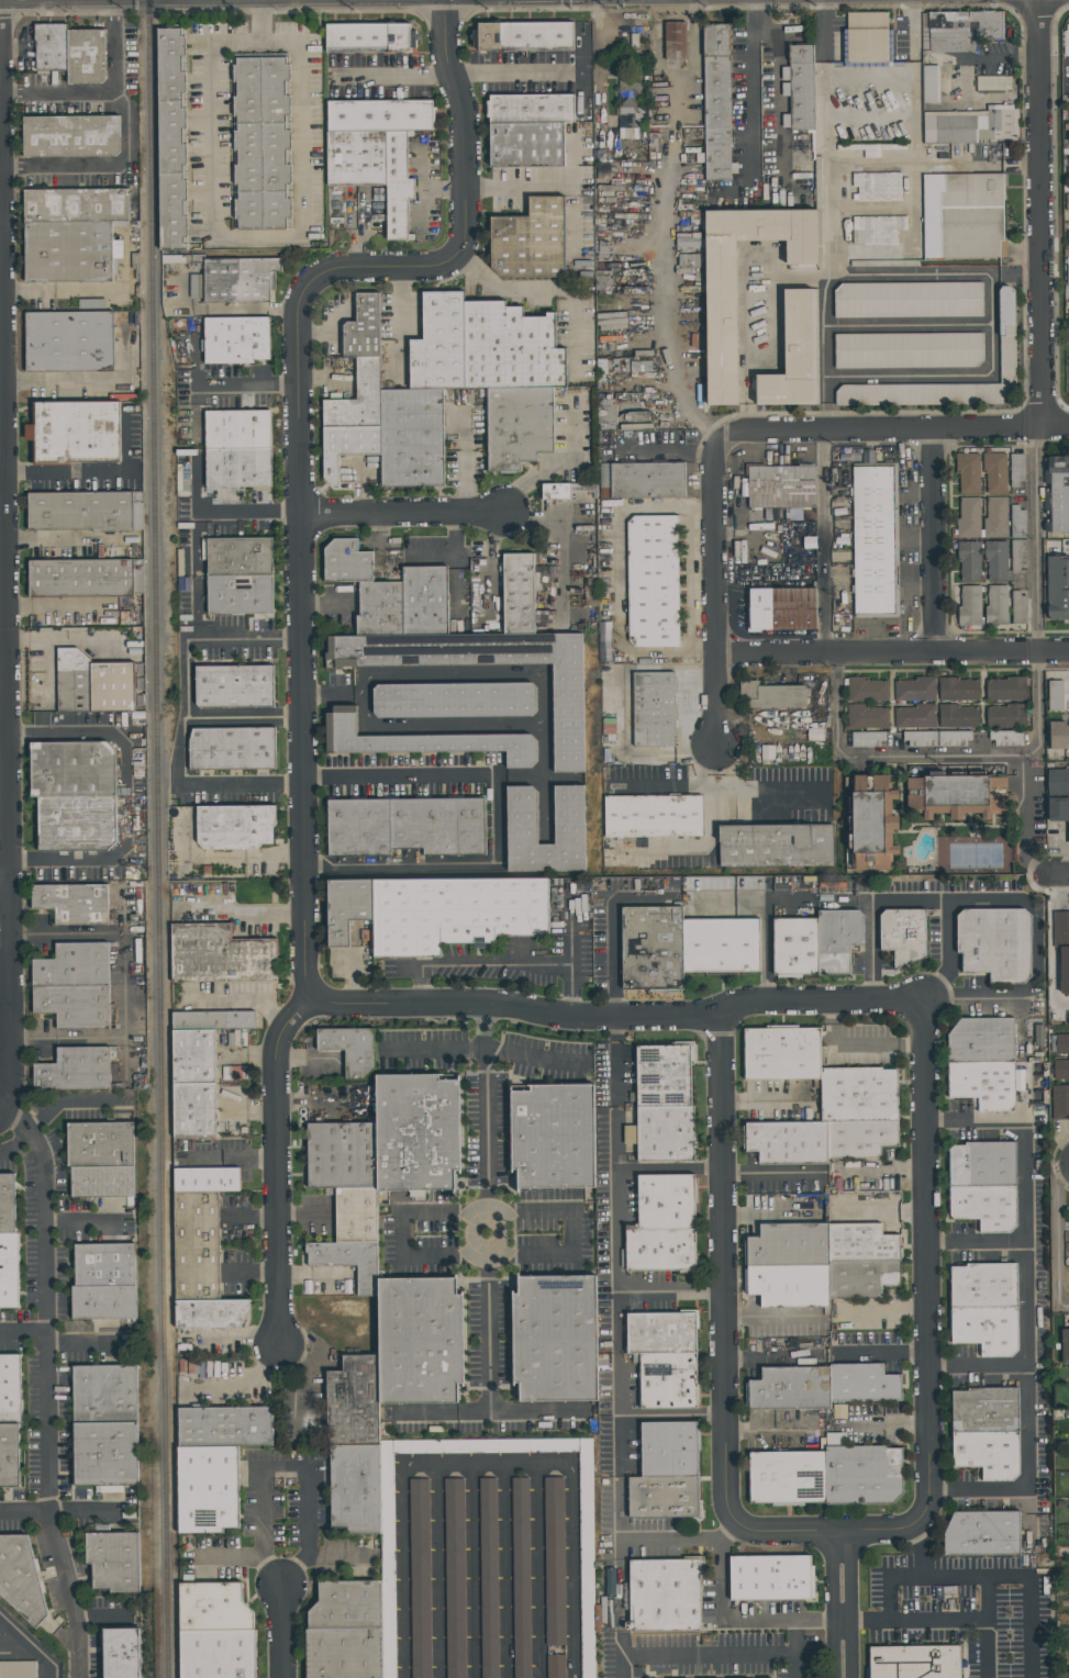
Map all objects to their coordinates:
road: (695, 5)
road: (256, 20)
building: (959, 30)
road: (823, 31)
road: (916, 31)
building: (527, 38)
building: (370, 40)
building: (867, 40)
building: (676, 41)
building: (1066, 42)
road: (113, 45)
building: (51, 46)
building: (86, 56)
road: (1068, 71)
road: (515, 72)
road: (394, 74)
road: (869, 74)
road: (657, 83)
road: (776, 83)
building: (929, 83)
building: (993, 83)
building: (799, 88)
road: (60, 91)
road: (0, 92)
road: (746, 101)
building: (628, 102)
building: (716, 103)
road: (823, 104)
building: (1068, 107)
building: (534, 110)
building: (380, 114)
building: (972, 125)
building: (70, 135)
building: (172, 137)
building: (1068, 137)
road: (465, 142)
building: (261, 143)
building: (528, 147)
building: (356, 158)
road: (99, 161)
road: (871, 163)
building: (1068, 165)
building: (398, 184)
building: (877, 186)
road: (517, 187)
road: (914, 193)
road: (1, 199)
building: (1067, 202)
building: (78, 208)
road: (828, 211)
road: (1040, 213)
building: (962, 215)
building: (877, 228)
road: (252, 236)
building: (1068, 238)
building: (531, 240)
building: (70, 254)
road: (385, 270)
building: (1068, 270)
road: (1015, 272)
building: (240, 279)
road: (493, 286)
building: (196, 287)
road: (742, 287)
road: (662, 297)
building: (907, 300)
road: (255, 311)
road: (990, 323)
building: (363, 327)
building: (1006, 336)
building: (724, 337)
road: (777, 338)
building: (236, 339)
building: (70, 344)
building: (439, 344)
building: (511, 348)
building: (909, 350)
road: (1, 353)
road: (826, 353)
building: (798, 357)
road: (231, 383)
building: (358, 399)
road: (198, 411)
building: (517, 426)
road: (893, 429)
building: (241, 432)
building: (80, 434)
building: (411, 437)
building: (347, 446)
road: (664, 451)
building: (1016, 469)
road: (94, 470)
building: (241, 470)
building: (968, 472)
building: (994, 472)
building: (642, 480)
building: (783, 489)
building: (566, 490)
building: (1056, 493)
building: (80, 510)
road: (249, 514)
road: (409, 514)
building: (969, 517)
building: (995, 517)
building: (1017, 522)
road: (619, 533)
building: (876, 539)
road: (933, 541)
road: (821, 542)
road: (4, 550)
building: (1017, 555)
building: (241, 558)
building: (969, 560)
building: (996, 561)
building: (349, 564)
road: (2, 578)
building: (79, 578)
building: (653, 581)
road: (691, 581)
building: (1057, 589)
building: (242, 596)
building: (521, 596)
building: (427, 603)
road: (715, 603)
road: (55, 605)
building: (995, 605)
building: (968, 606)
building: (1016, 607)
building: (781, 609)
building: (382, 611)
road: (205, 639)
road: (667, 653)
road: (892, 655)
road: (1038, 655)
building: (92, 683)
building: (236, 689)
building: (865, 690)
building: (913, 690)
building: (956, 690)
building: (1005, 690)
building: (1056, 695)
building: (771, 696)
road: (326, 697)
road: (356, 697)
building: (455, 700)
road: (541, 707)
building: (653, 709)
building: (914, 716)
building: (957, 716)
building: (865, 717)
building: (1005, 717)
building: (1059, 734)
building: (953, 738)
building: (1006, 738)
building: (866, 739)
building: (920, 739)
building: (423, 740)
building: (230, 749)
road: (183, 750)
road: (884, 754)
building: (70, 770)
road: (542, 772)
road: (122, 795)
building: (1058, 795)
building: (957, 796)
building: (521, 815)
road: (302, 817)
road: (497, 818)
building: (649, 819)
building: (872, 823)
building: (75, 825)
building: (234, 828)
building: (403, 828)
railway: (159, 838)
building: (778, 848)
road: (226, 853)
road: (1053, 875)
road: (3, 884)
road: (912, 896)
building: (75, 905)
road: (244, 909)
building: (345, 909)
building: (453, 914)
road: (612, 914)
building: (1060, 930)
road: (87, 933)
building: (902, 936)
building: (836, 941)
building: (994, 943)
road: (1051, 944)
building: (719, 947)
building: (794, 948)
building: (650, 949)
building: (222, 958)
road: (502, 962)
road: (4, 965)
building: (75, 969)
road: (975, 997)
road: (614, 998)
road: (236, 1004)
building: (76, 1007)
road: (123, 1011)
road: (620, 1017)
building: (242, 1022)
building: (201, 1023)
road: (26, 1038)
road: (55, 1038)
road: (859, 1041)
building: (981, 1042)
building: (1061, 1043)
building: (348, 1050)
building: (784, 1056)
road: (615, 1058)
building: (1061, 1070)
building: (76, 1073)
building: (662, 1076)
building: (982, 1084)
road: (3, 1085)
building: (196, 1085)
building: (861, 1096)
road: (70, 1100)
building: (1060, 1101)
building: (415, 1133)
building: (630, 1134)
building: (665, 1134)
building: (552, 1139)
building: (862, 1140)
road: (14, 1143)
building: (790, 1144)
building: (102, 1146)
building: (341, 1156)
road: (233, 1160)
building: (981, 1166)
road: (669, 1168)
road: (881, 1171)
road: (771, 1173)
road: (1028, 1178)
building: (209, 1182)
building: (104, 1184)
building: (8, 1206)
road: (488, 1208)
building: (984, 1208)
building: (355, 1216)
building: (665, 1227)
road: (571, 1232)
road: (401, 1234)
building: (860, 1244)
road: (1057, 1244)
building: (788, 1245)
building: (199, 1248)
building: (348, 1262)
road: (927, 1263)
building: (105, 1266)
road: (723, 1269)
building: (10, 1273)
building: (860, 1279)
building: (788, 1285)
building: (982, 1286)
road: (671, 1293)
building: (105, 1305)
road: (1025, 1306)
road: (886, 1309)
building: (213, 1316)
building: (984, 1330)
building: (660, 1333)
building: (553, 1340)
building: (417, 1344)
building: (1065, 1349)
road: (884, 1353)
road: (772, 1362)
road: (620, 1377)
building: (667, 1381)
building: (861, 1385)
road: (47, 1387)
building: (9, 1388)
building: (788, 1390)
building: (107, 1397)
building: (352, 1402)
building: (988, 1412)
road: (672, 1414)
building: (226, 1430)
road: (1026, 1430)
building: (667, 1451)
building: (107, 1456)
building: (10, 1457)
building: (990, 1457)
road: (488, 1463)
road: (282, 1467)
building: (861, 1477)
building: (787, 1479)
building: (354, 1489)
building: (210, 1491)
building: (662, 1499)
road: (826, 1532)
building: (981, 1533)
road: (231, 1555)
road: (920, 1555)
building: (555, 1560)
building: (115, 1564)
building: (587, 1569)
road: (474, 1570)
building: (20, 1577)
building: (489, 1577)
building: (521, 1577)
building: (420, 1578)
building: (455, 1578)
road: (968, 1578)
building: (769, 1579)
building: (664, 1597)
road: (986, 1599)
road: (722, 1604)
road: (843, 1604)
building: (346, 1606)
building: (211, 1608)
road: (966, 1621)
road: (281, 1632)
road: (30, 1645)
building: (220, 1654)
building: (344, 1654)
road: (738, 1654)
building: (122, 1655)
building: (913, 1663)
building: (556, 1666)
building: (18, 1669)

